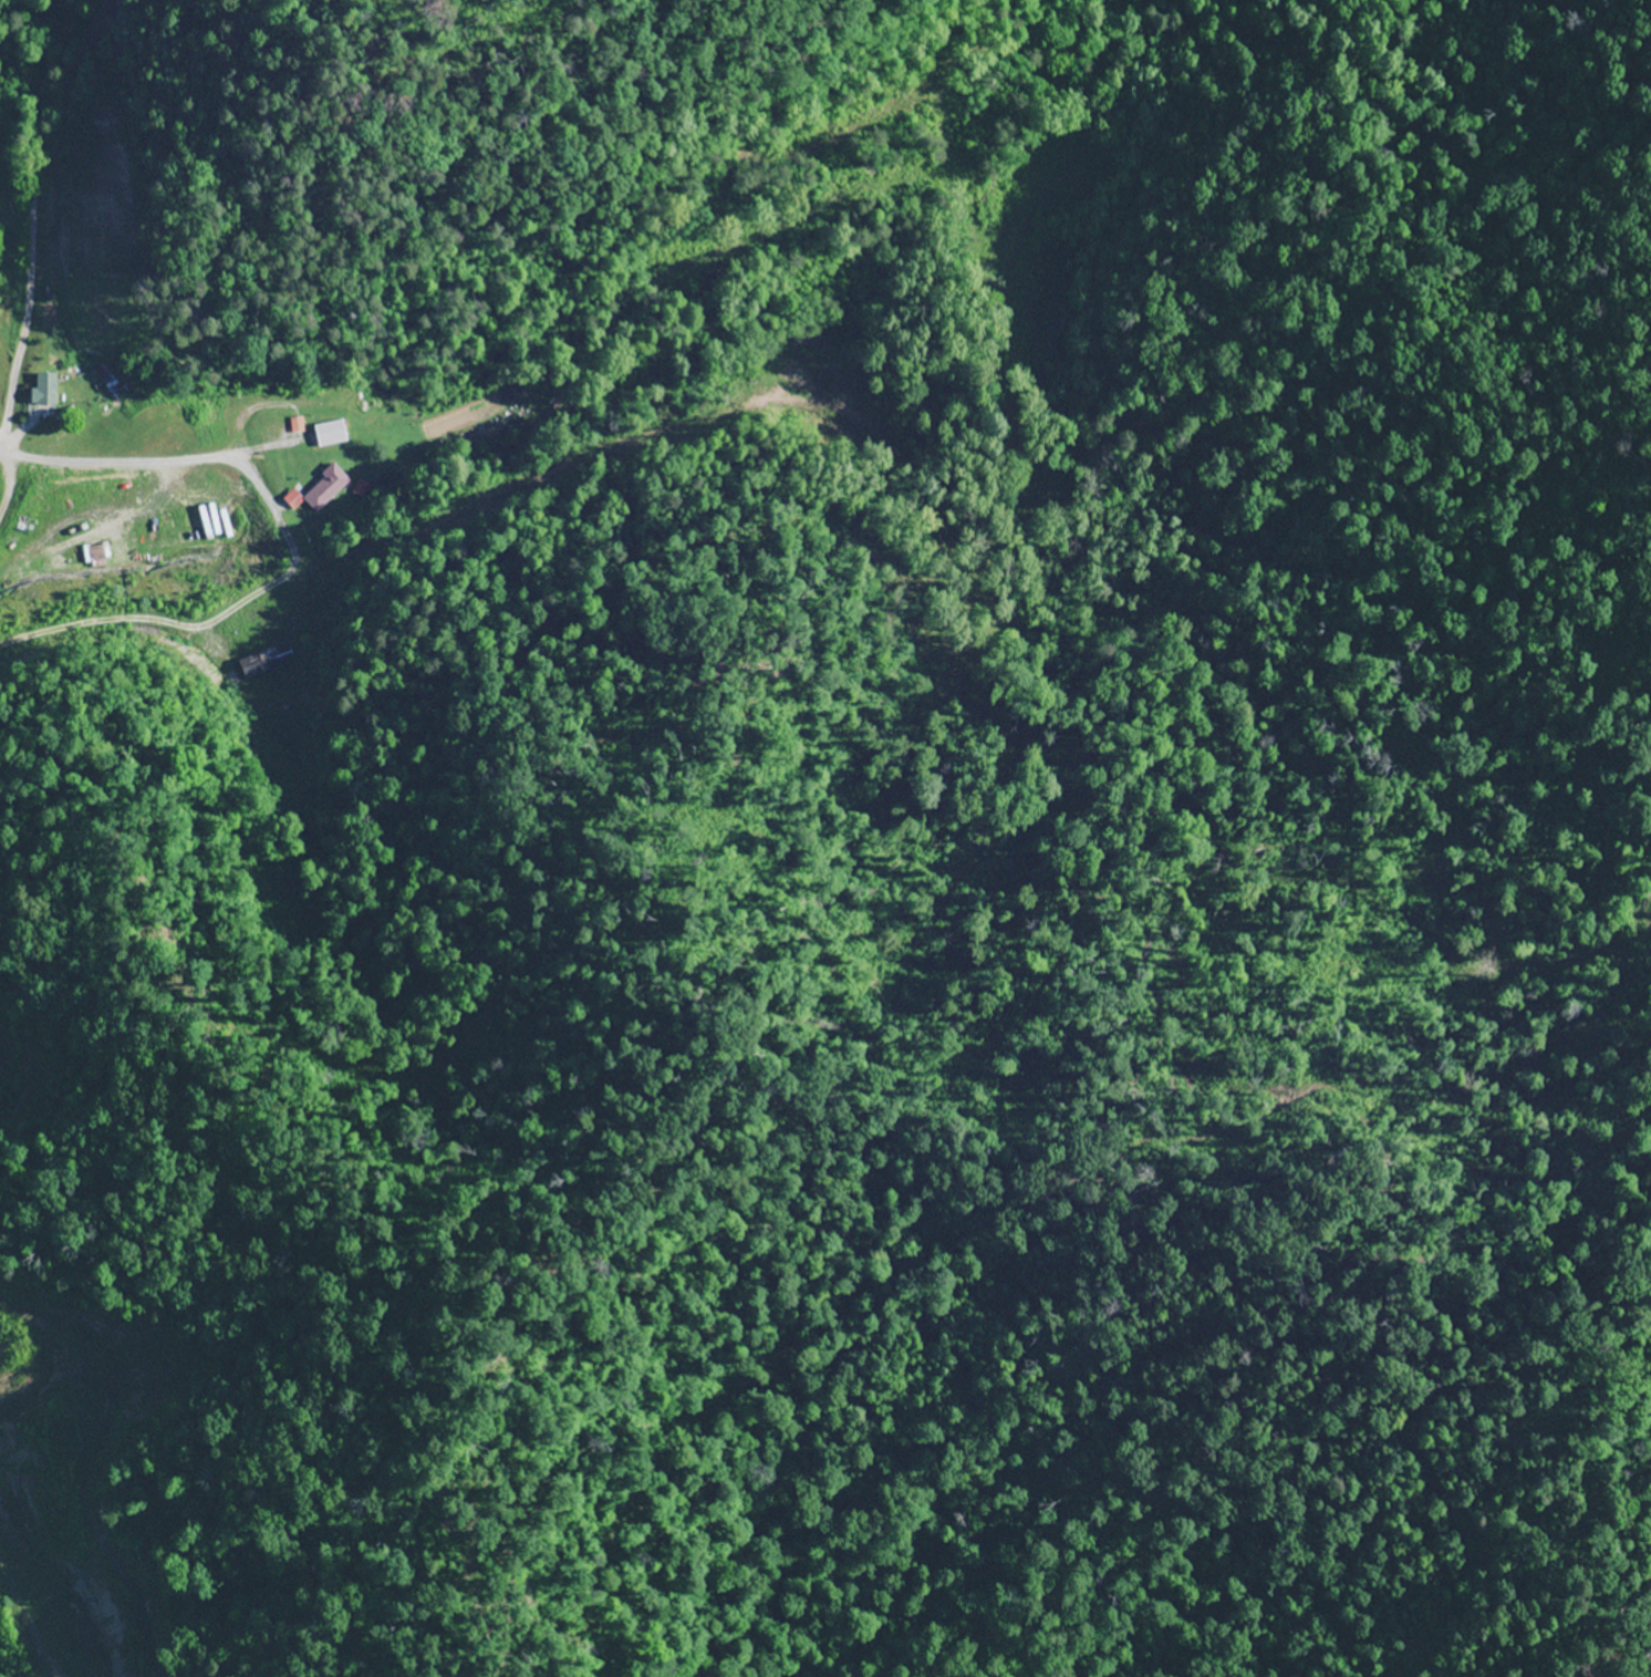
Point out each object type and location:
building: (106, 377)
building: (44, 389)
building: (516, 393)
building: (329, 434)
road: (178, 438)
building: (324, 489)
building: (98, 553)

